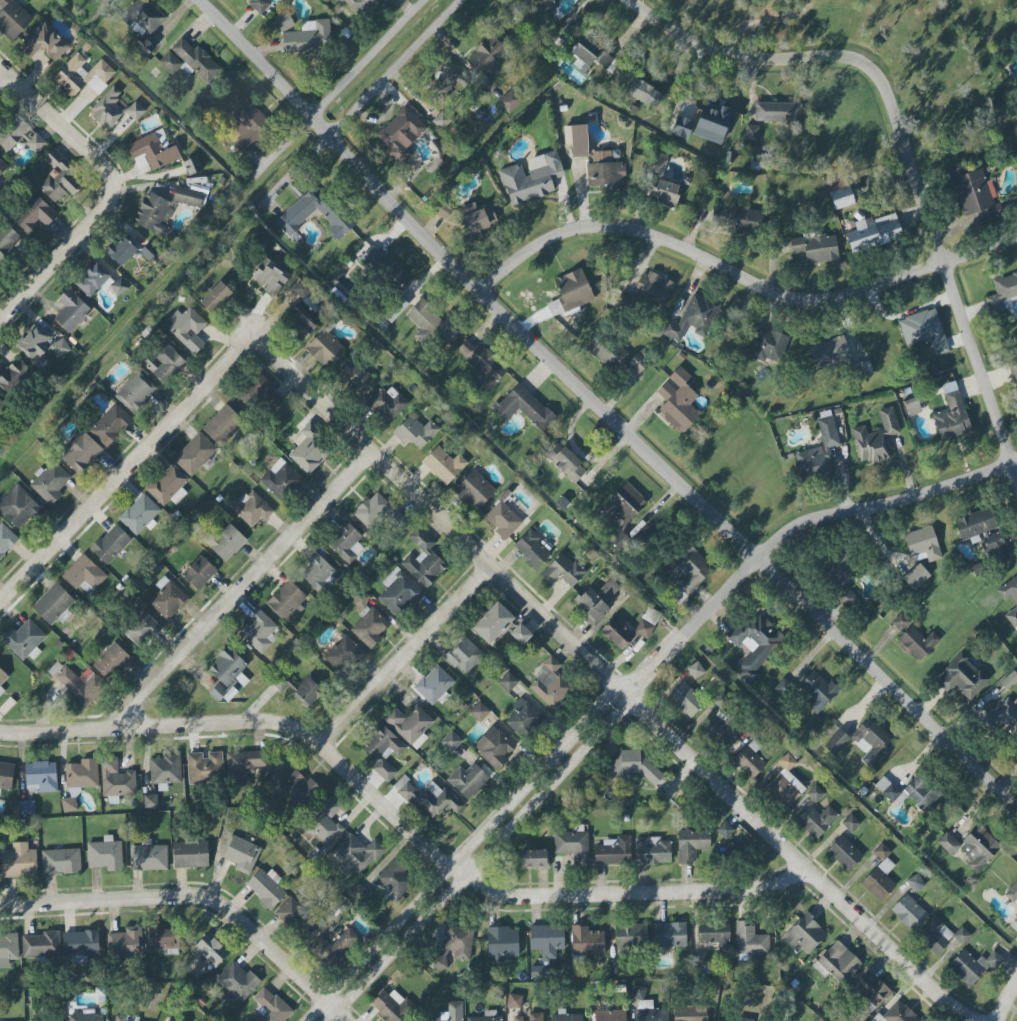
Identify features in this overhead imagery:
building: (260, 4)
building: (359, 6)
building: (13, 18)
building: (143, 23)
building: (302, 34)
building: (44, 42)
building: (590, 54)
building: (488, 56)
road: (368, 58)
building: (188, 60)
road: (395, 67)
building: (83, 76)
building: (448, 77)
road: (3, 80)
building: (645, 94)
building: (511, 100)
building: (113, 109)
building: (777, 112)
building: (712, 122)
building: (684, 124)
road: (61, 126)
building: (250, 126)
building: (400, 134)
building: (19, 135)
road: (903, 137)
road: (283, 146)
building: (154, 150)
building: (435, 155)
building: (656, 162)
building: (192, 165)
building: (2, 166)
building: (599, 168)
building: (58, 177)
building: (531, 179)
building: (972, 190)
building: (665, 193)
building: (187, 196)
building: (842, 197)
building: (34, 214)
building: (152, 214)
building: (296, 215)
building: (739, 219)
building: (478, 220)
building: (873, 233)
building: (8, 243)
building: (816, 248)
building: (129, 251)
road: (62, 261)
building: (381, 267)
road: (748, 277)
building: (271, 278)
building: (100, 281)
building: (574, 289)
building: (653, 289)
building: (1002, 293)
building: (215, 298)
building: (305, 307)
building: (71, 310)
building: (692, 318)
building: (432, 326)
building: (187, 327)
building: (924, 330)
building: (41, 344)
building: (767, 346)
building: (325, 348)
building: (605, 350)
building: (837, 356)
building: (164, 362)
building: (481, 362)
building: (637, 362)
building: (1013, 368)
building: (13, 376)
building: (356, 376)
building: (135, 392)
building: (265, 392)
building: (678, 400)
building: (1, 404)
building: (385, 404)
road: (608, 406)
building: (912, 406)
building: (524, 407)
building: (951, 415)
building: (109, 424)
building: (223, 425)
building: (415, 432)
building: (876, 439)
building: (818, 452)
building: (80, 453)
building: (194, 454)
building: (565, 462)
building: (444, 465)
road: (128, 472)
building: (280, 479)
building: (50, 483)
building: (168, 486)
building: (474, 490)
building: (624, 504)
building: (17, 506)
building: (251, 508)
building: (370, 511)
building: (140, 515)
building: (505, 516)
building: (984, 534)
building: (6, 540)
building: (225, 541)
building: (345, 542)
building: (110, 544)
building: (922, 544)
building: (532, 548)
building: (423, 559)
building: (835, 565)
building: (691, 569)
building: (317, 570)
building: (562, 571)
building: (199, 573)
building: (84, 575)
building: (915, 576)
road: (245, 585)
building: (609, 589)
building: (398, 592)
building: (846, 596)
building: (167, 598)
building: (287, 600)
building: (52, 603)
building: (1015, 604)
building: (590, 606)
building: (900, 622)
building: (493, 623)
building: (645, 625)
building: (370, 627)
building: (141, 628)
building: (258, 631)
building: (520, 634)
building: (24, 640)
building: (917, 642)
building: (754, 643)
building: (343, 655)
road: (406, 655)
building: (464, 656)
building: (111, 660)
building: (695, 670)
building: (226, 675)
building: (2, 677)
building: (961, 678)
building: (507, 681)
road: (613, 681)
building: (434, 684)
building: (549, 684)
building: (81, 685)
building: (1, 690)
building: (309, 690)
road: (638, 691)
building: (817, 691)
building: (685, 700)
building: (479, 711)
building: (1004, 716)
building: (523, 718)
road: (257, 722)
building: (409, 725)
building: (721, 728)
building: (450, 741)
building: (871, 741)
building: (493, 748)
building: (382, 750)
building: (749, 760)
building: (244, 766)
building: (205, 767)
building: (633, 767)
building: (165, 769)
building: (81, 774)
building: (6, 775)
building: (41, 776)
building: (115, 780)
building: (467, 780)
building: (784, 784)
building: (299, 789)
building: (889, 790)
building: (815, 793)
building: (921, 793)
building: (428, 798)
building: (149, 801)
building: (68, 804)
building: (27, 808)
building: (816, 820)
building: (324, 822)
building: (850, 823)
building: (724, 830)
building: (948, 843)
building: (691, 844)
building: (573, 846)
building: (979, 848)
building: (613, 851)
building: (652, 851)
building: (190, 853)
building: (240, 853)
building: (844, 853)
building: (105, 854)
building: (355, 854)
building: (148, 857)
building: (533, 859)
building: (18, 861)
building: (60, 861)
building: (879, 875)
building: (395, 880)
building: (915, 883)
building: (265, 889)
building: (358, 892)
road: (633, 893)
building: (1012, 893)
road: (197, 897)
building: (908, 912)
building: (295, 915)
building: (1014, 924)
building: (804, 934)
building: (670, 935)
building: (714, 935)
building: (939, 935)
building: (631, 936)
building: (163, 939)
building: (749, 939)
building: (547, 940)
building: (586, 941)
building: (125, 943)
building: (501, 943)
building: (41, 945)
building: (80, 945)
building: (454, 946)
building: (334, 948)
building: (8, 949)
building: (209, 949)
building: (699, 961)
building: (838, 963)
building: (972, 965)
building: (616, 966)
building: (238, 981)
building: (870, 990)
building: (514, 1001)
road: (1006, 1002)
building: (270, 1006)
building: (391, 1006)
building: (646, 1007)
building: (449, 1012)
building: (607, 1013)
building: (897, 1014)
building: (688, 1015)
building: (487, 1016)
building: (86, 1017)
building: (530, 1017)
building: (566, 1017)
building: (124, 1018)
building: (166, 1019)
building: (178, 1019)
building: (62, 1020)
building: (721, 1020)

